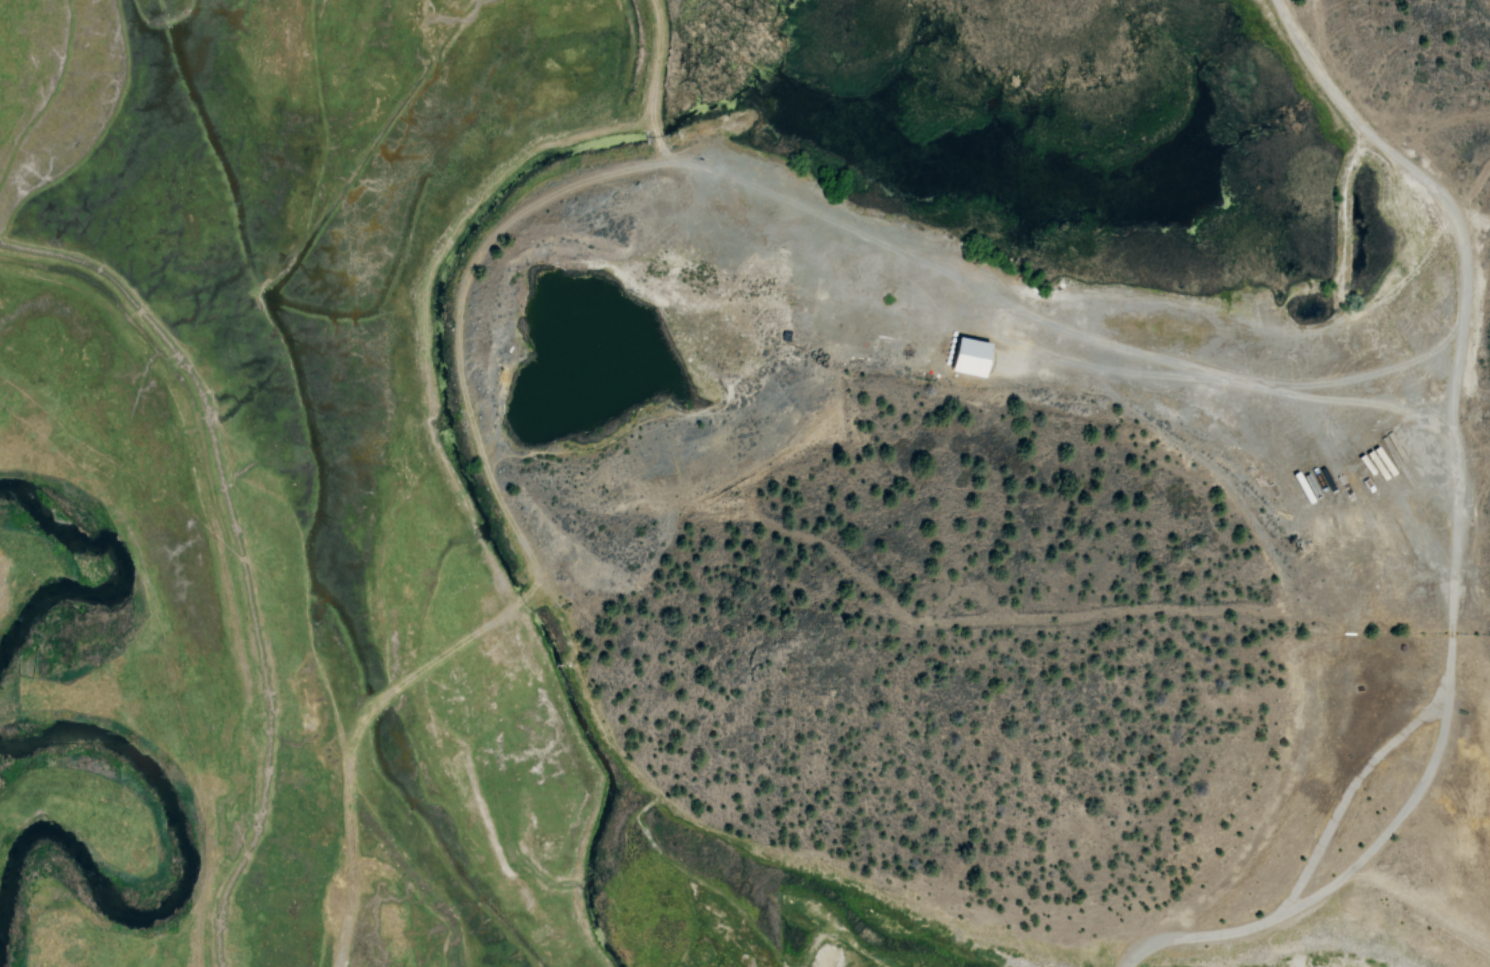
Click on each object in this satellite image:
road: (459, 263)
building: (973, 358)
road: (1454, 540)
river: (107, 584)
road: (383, 692)
road: (1277, 783)
river: (163, 899)

